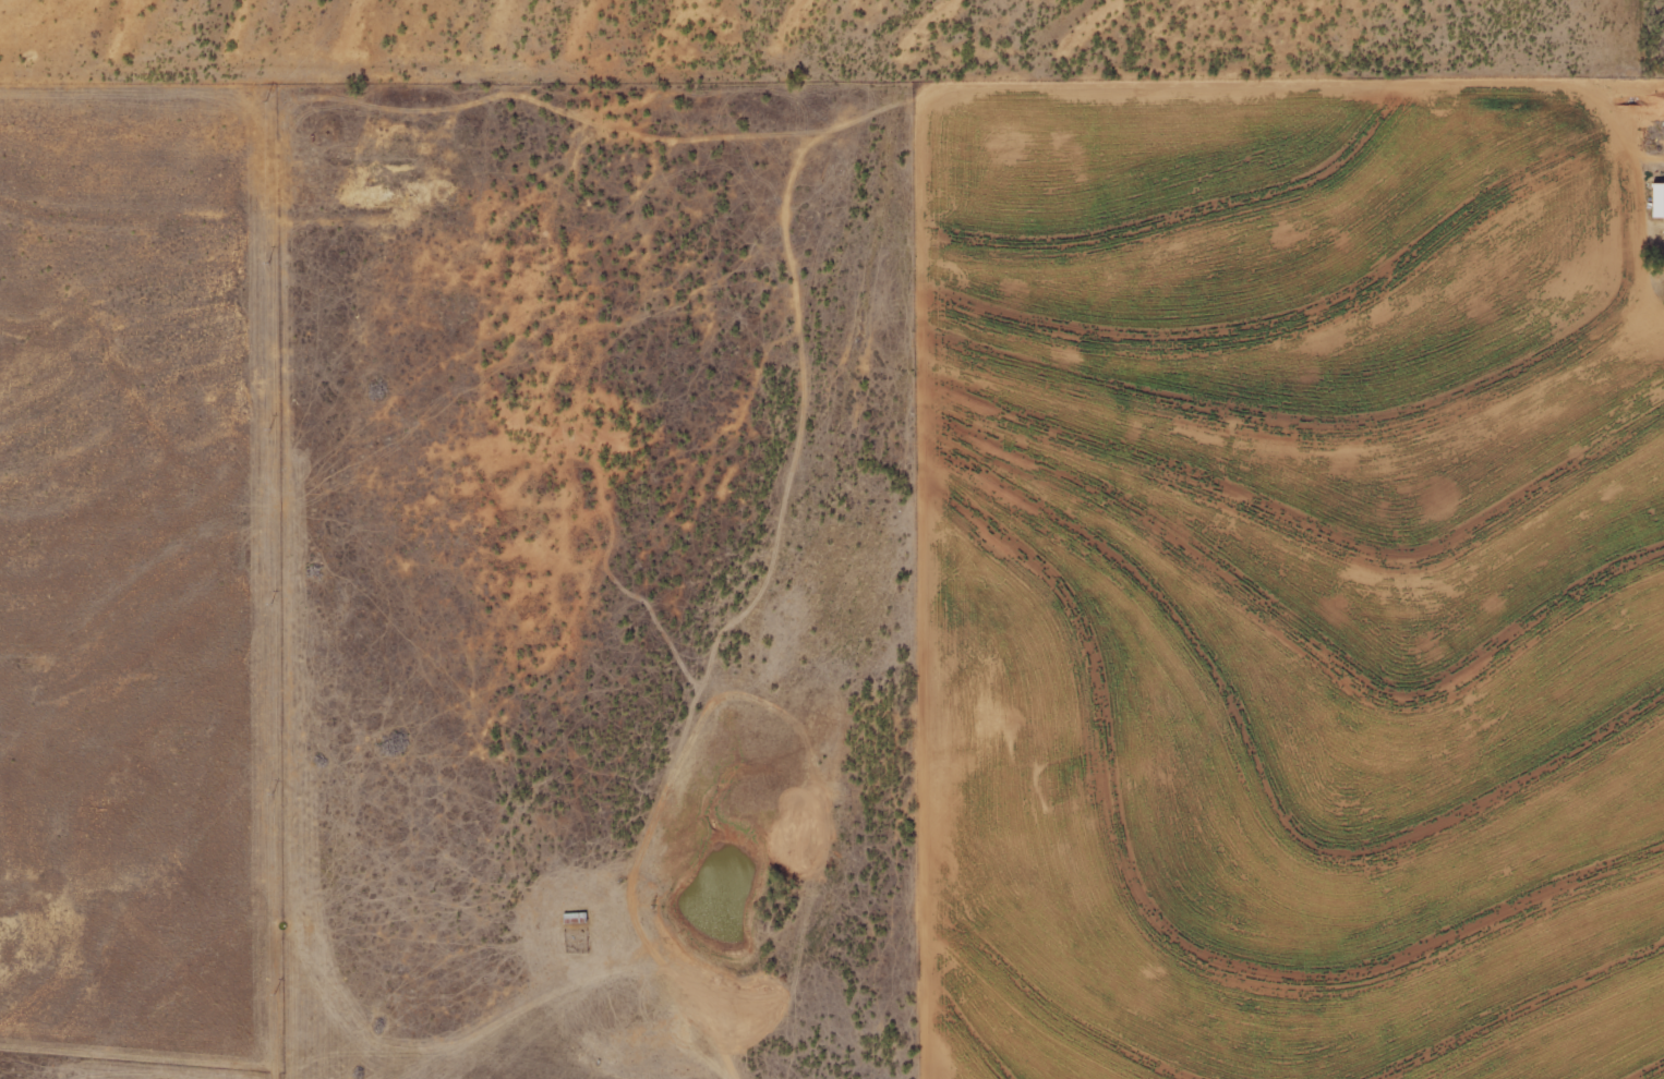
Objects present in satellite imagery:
building: (1659, 201)

